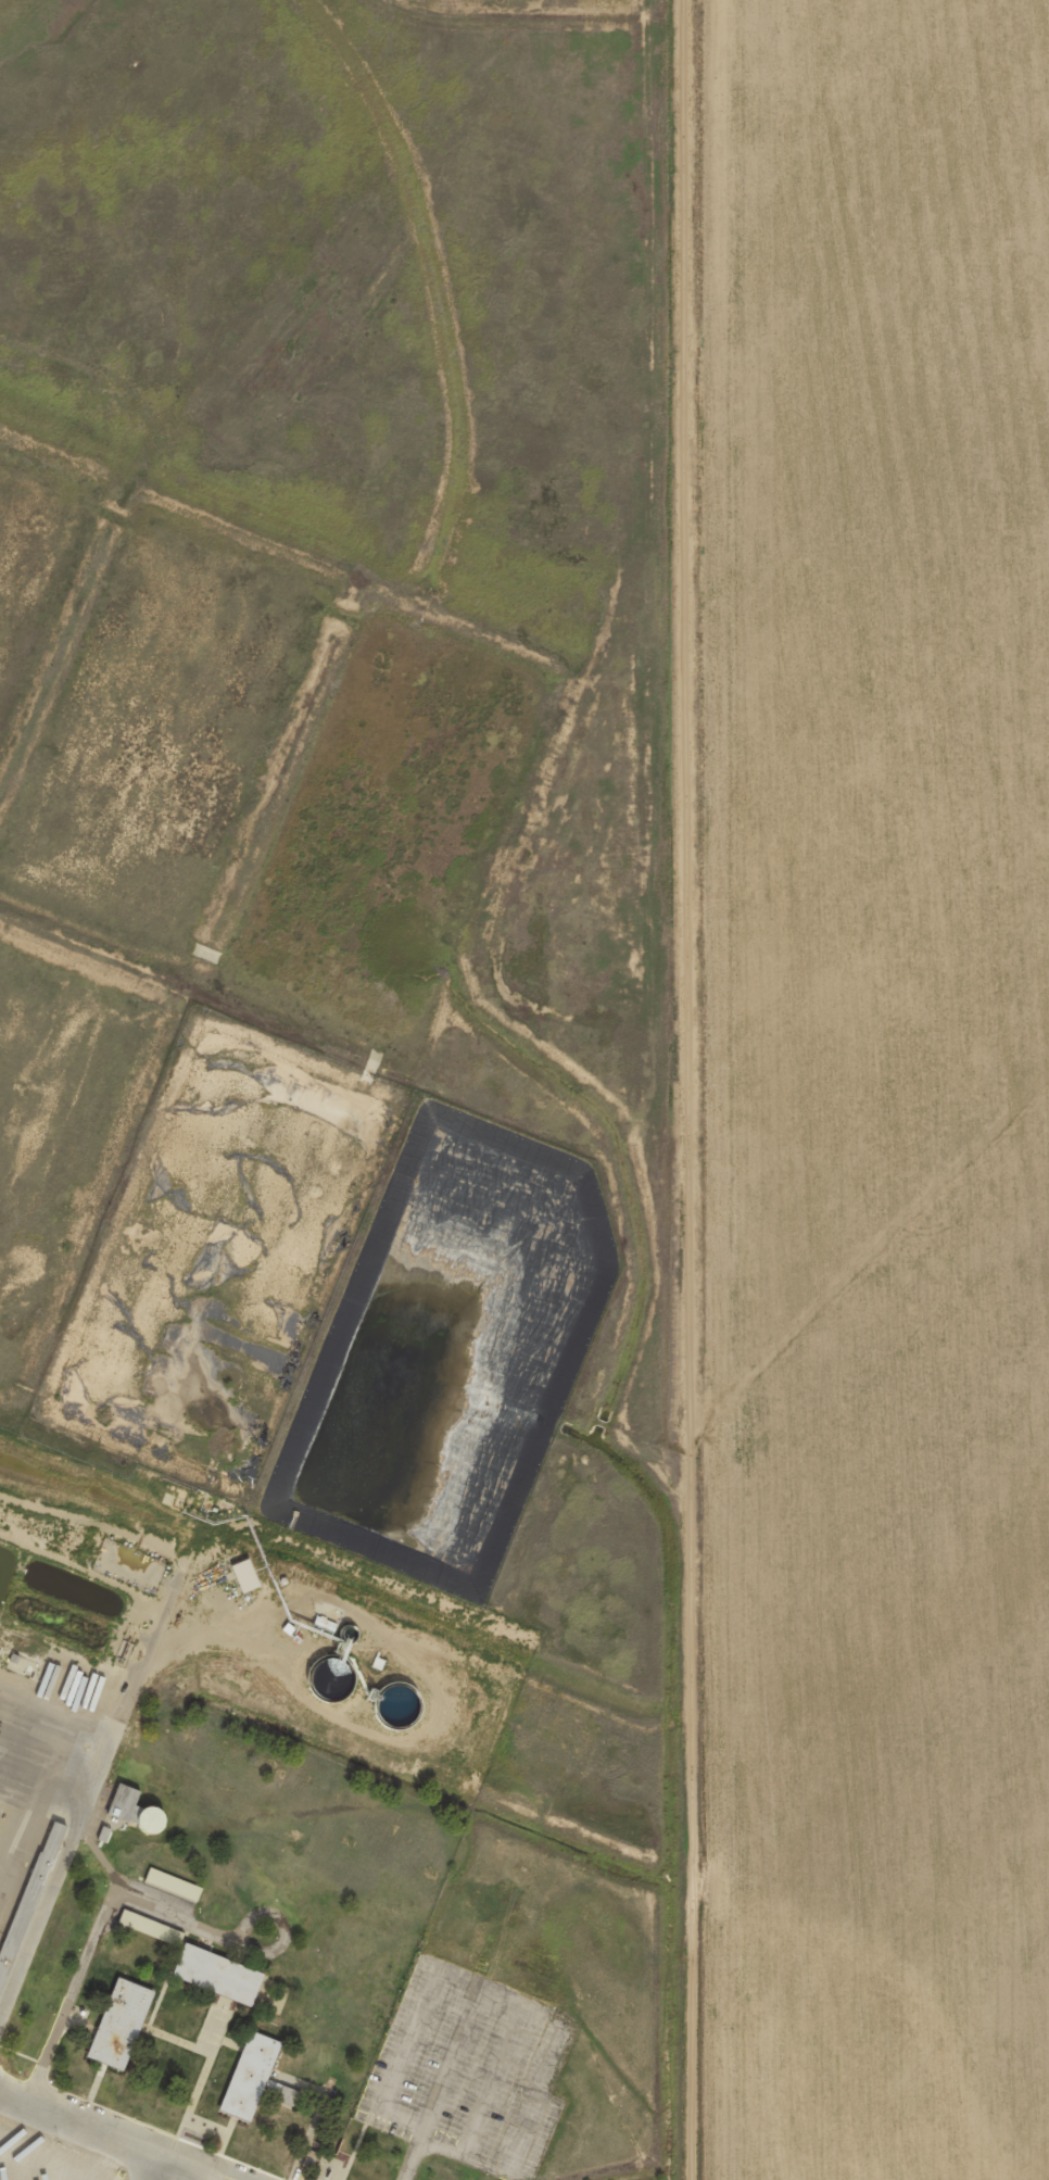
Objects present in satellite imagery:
road: (660, 1089)
building: (245, 1574)
building: (136, 1809)
building: (149, 1926)
building: (218, 1974)
building: (121, 2023)
building: (255, 2077)
road: (104, 2139)

